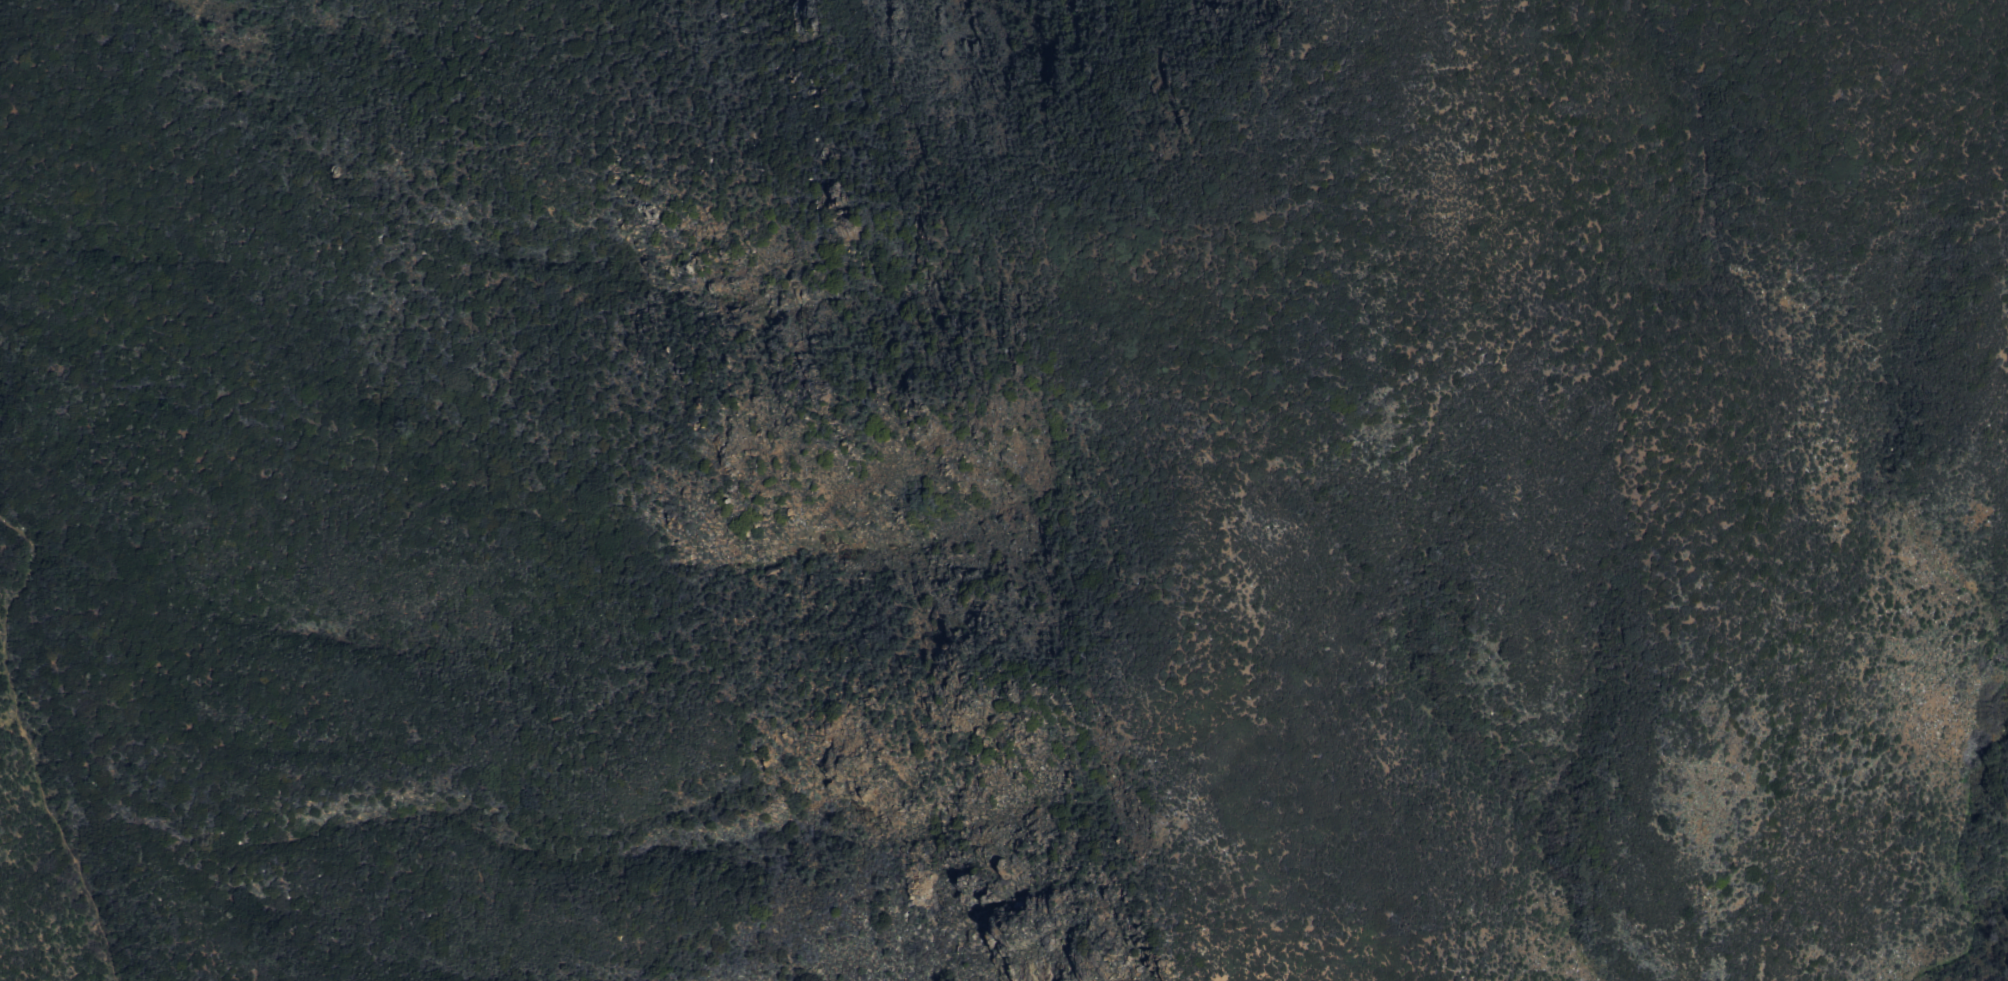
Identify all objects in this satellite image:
road: (23, 747)

